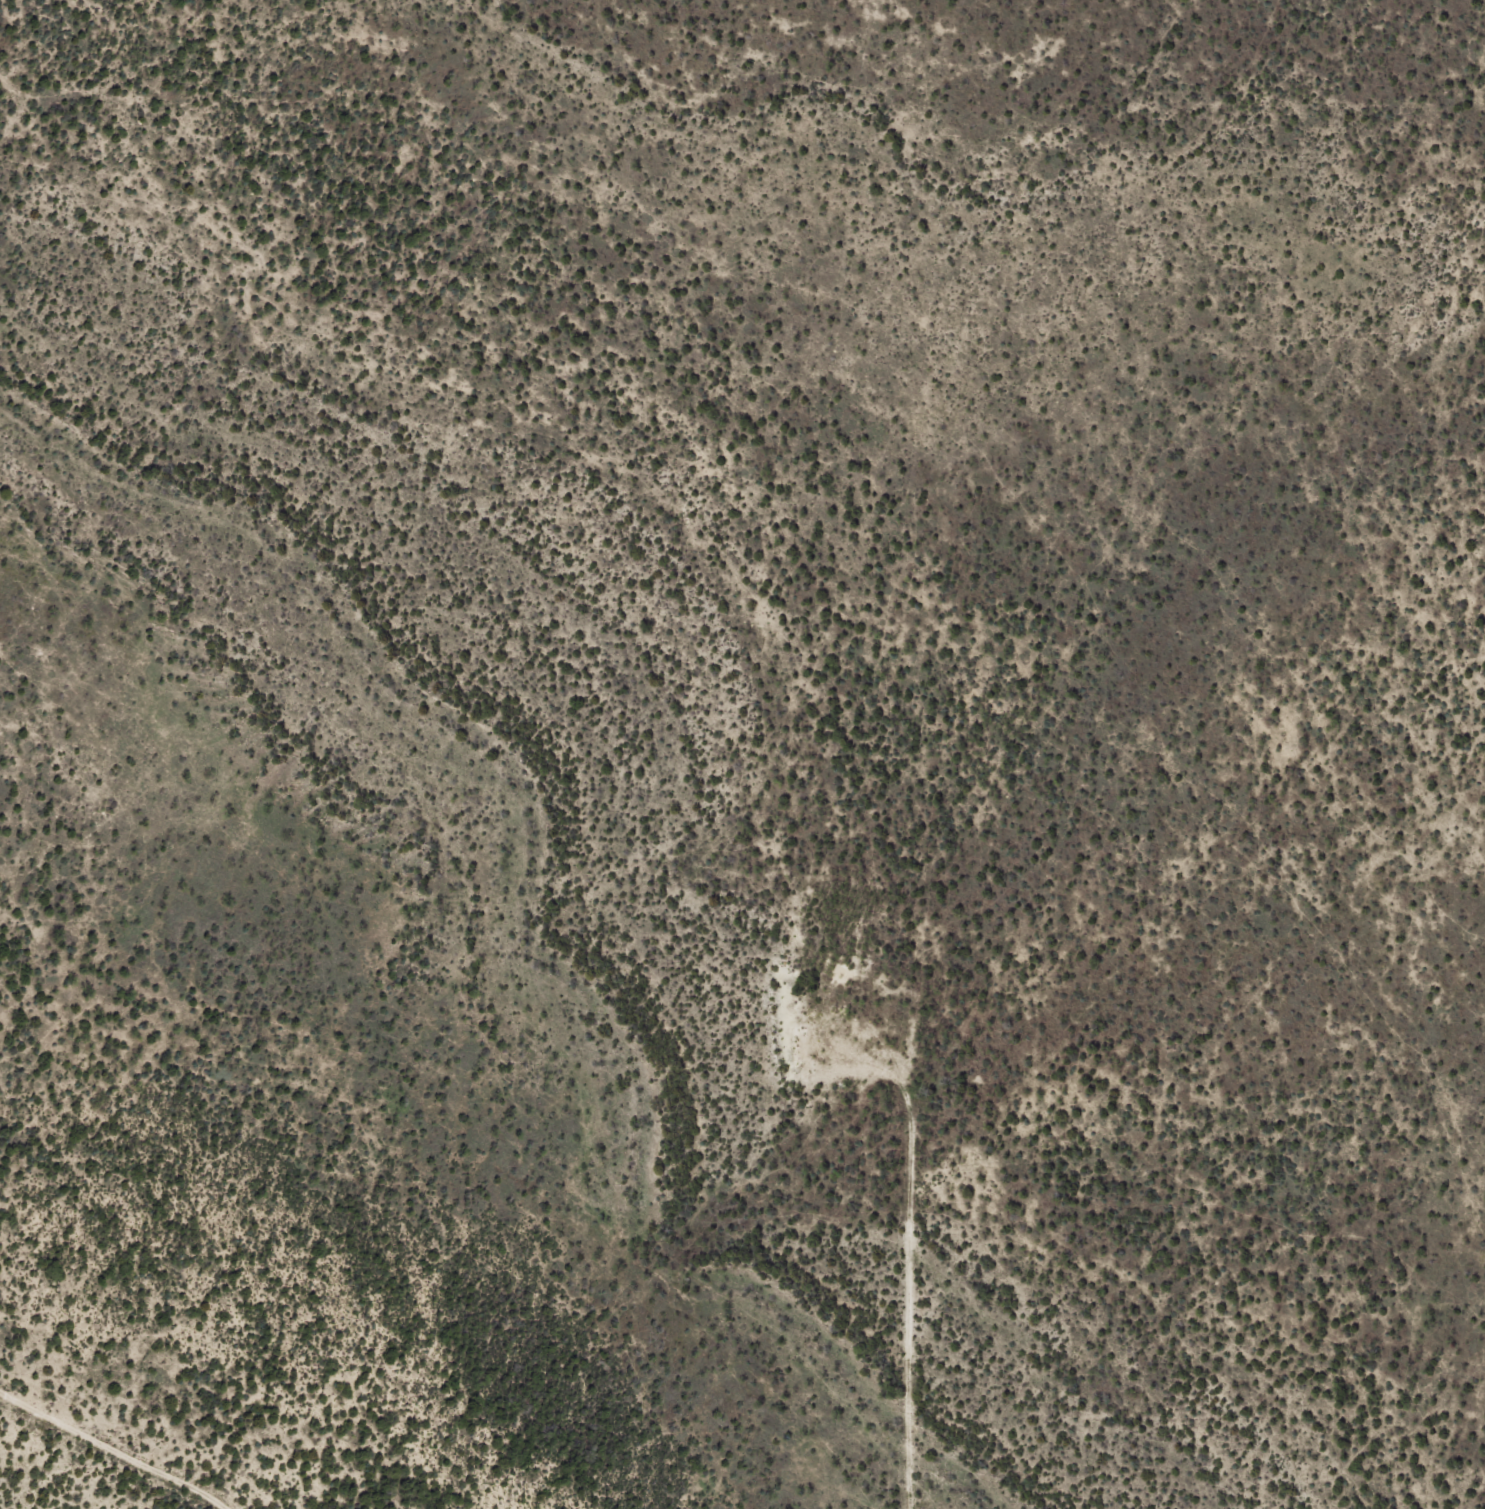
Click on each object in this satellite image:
road: (942, 1260)
road: (88, 1458)

